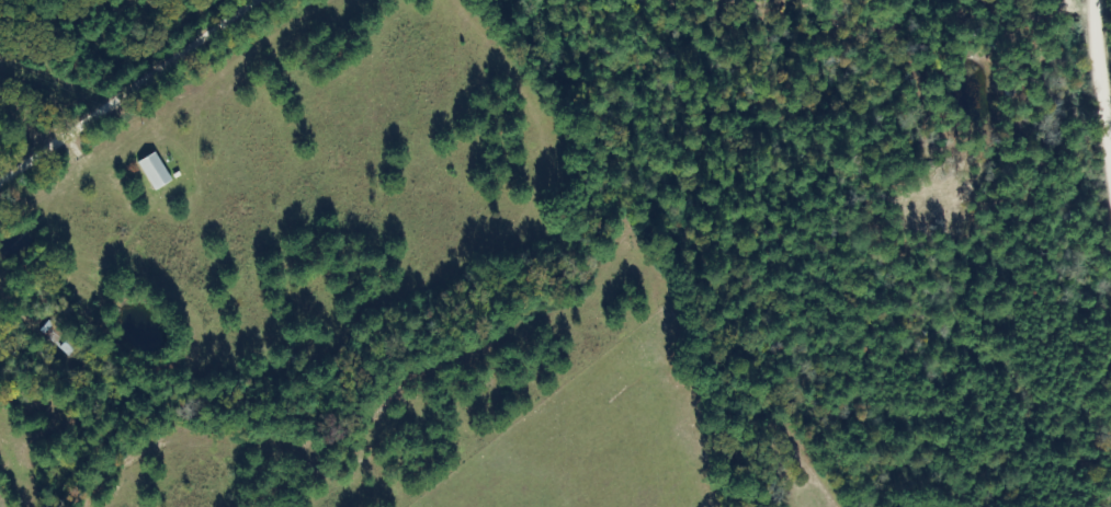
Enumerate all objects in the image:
road: (107, 74)
building: (154, 172)
road: (1095, 371)

